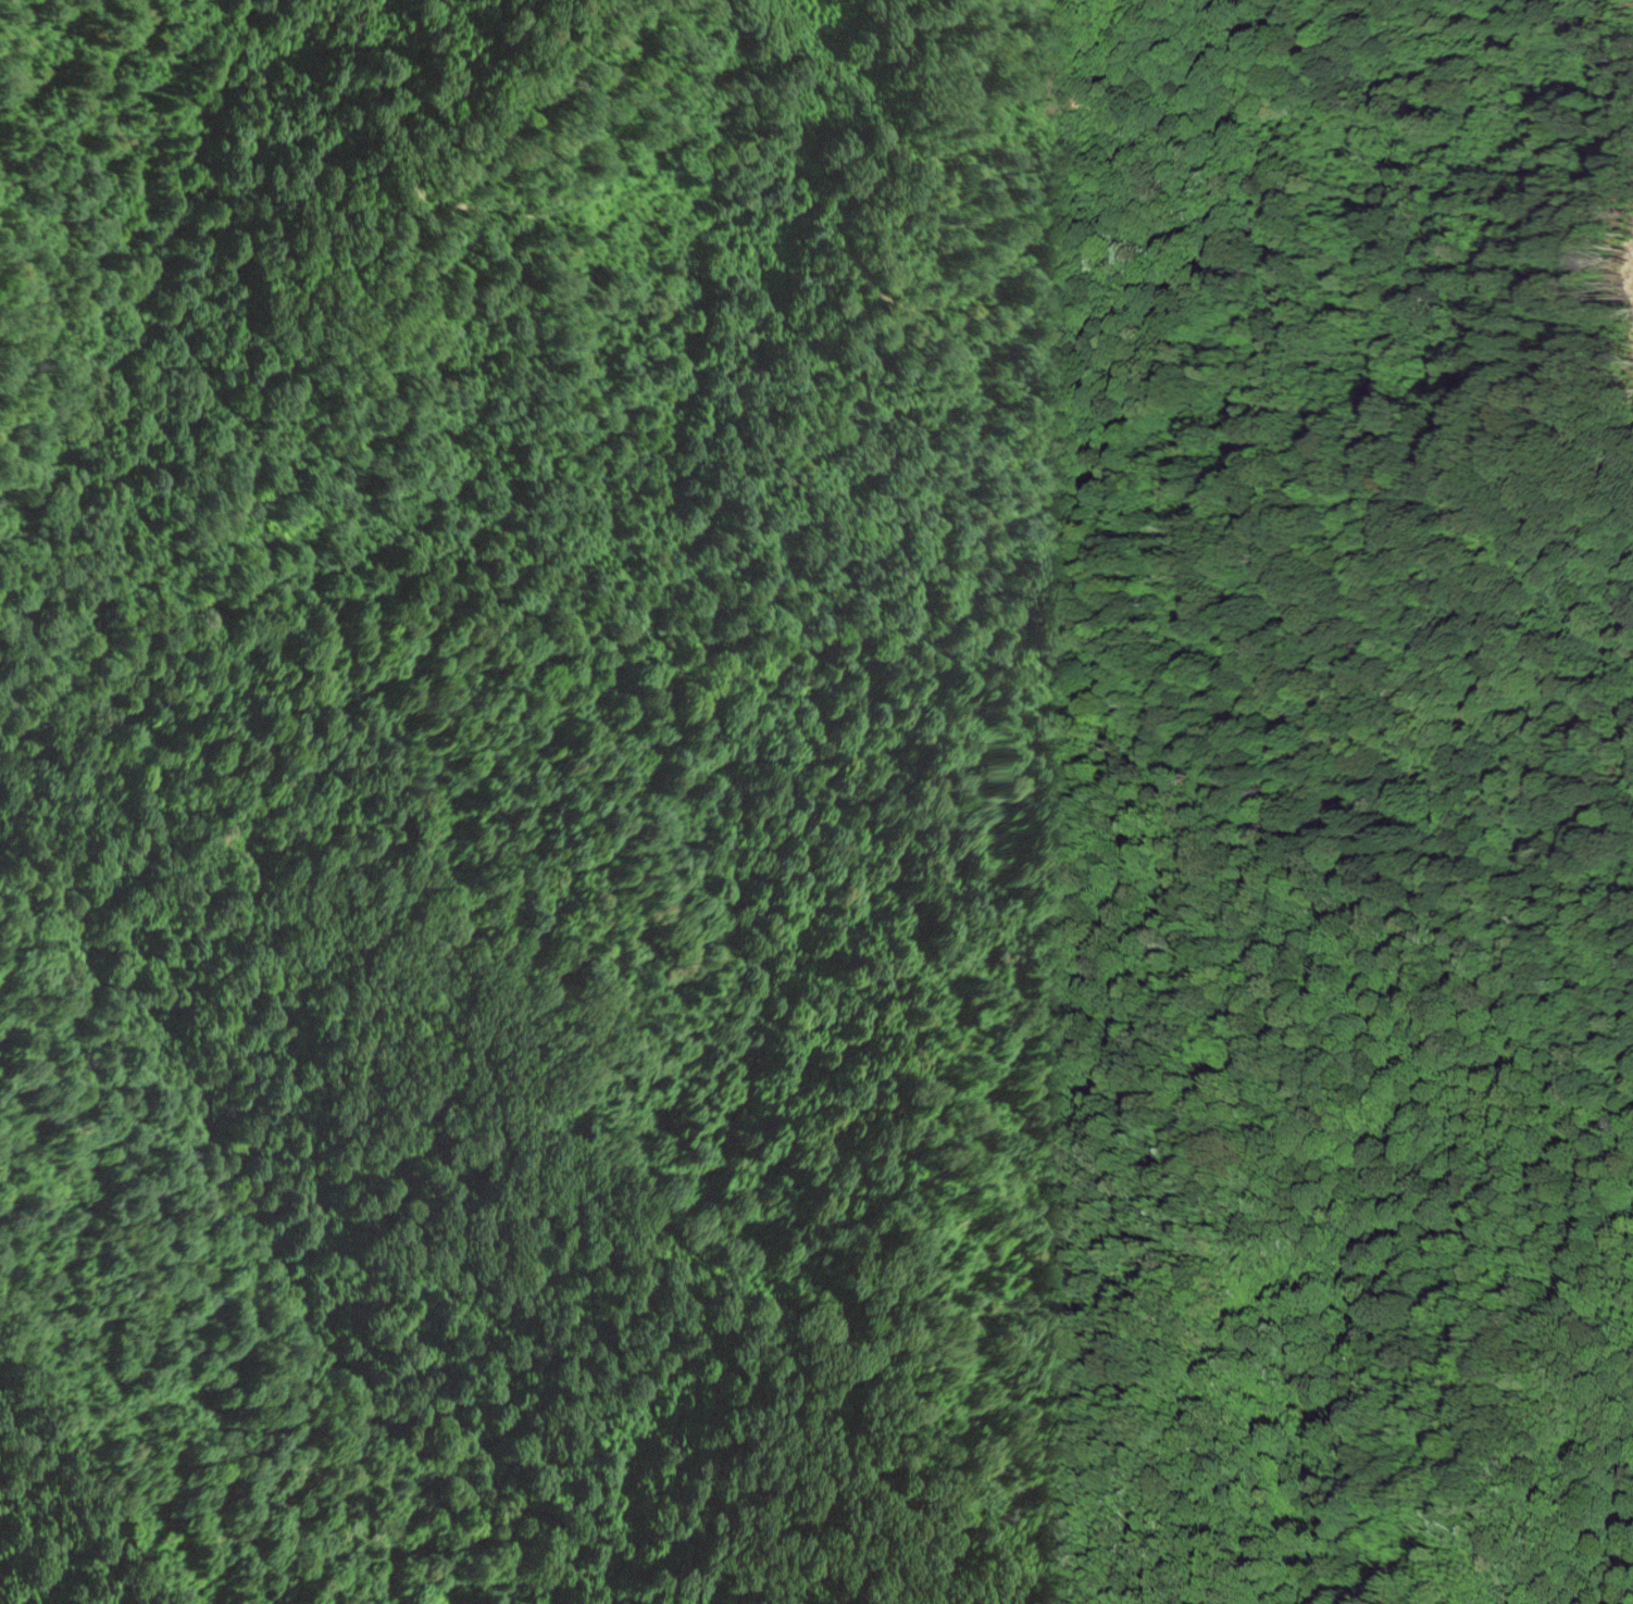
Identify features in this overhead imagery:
quarry: (1611, 66)

